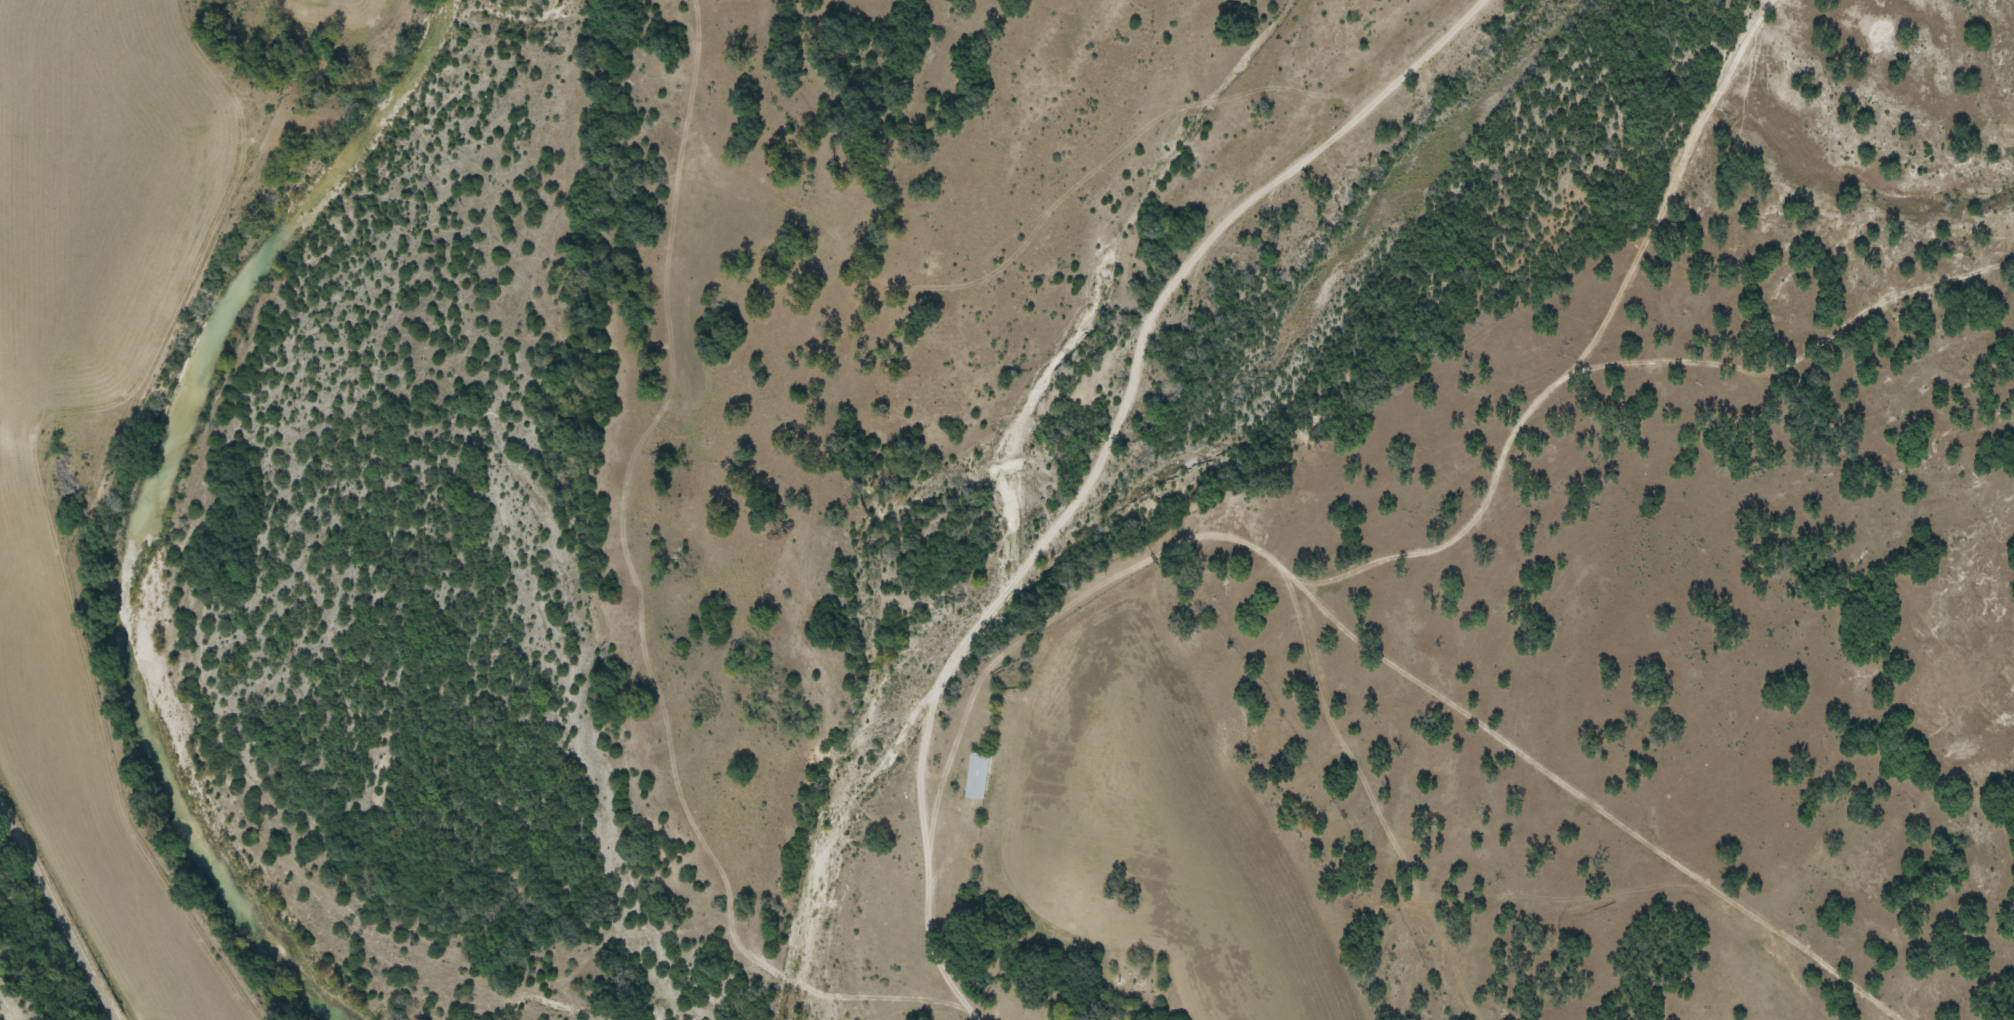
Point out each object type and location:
road: (1100, 468)
river: (148, 498)
road: (1452, 505)
building: (979, 775)
road: (57, 911)

